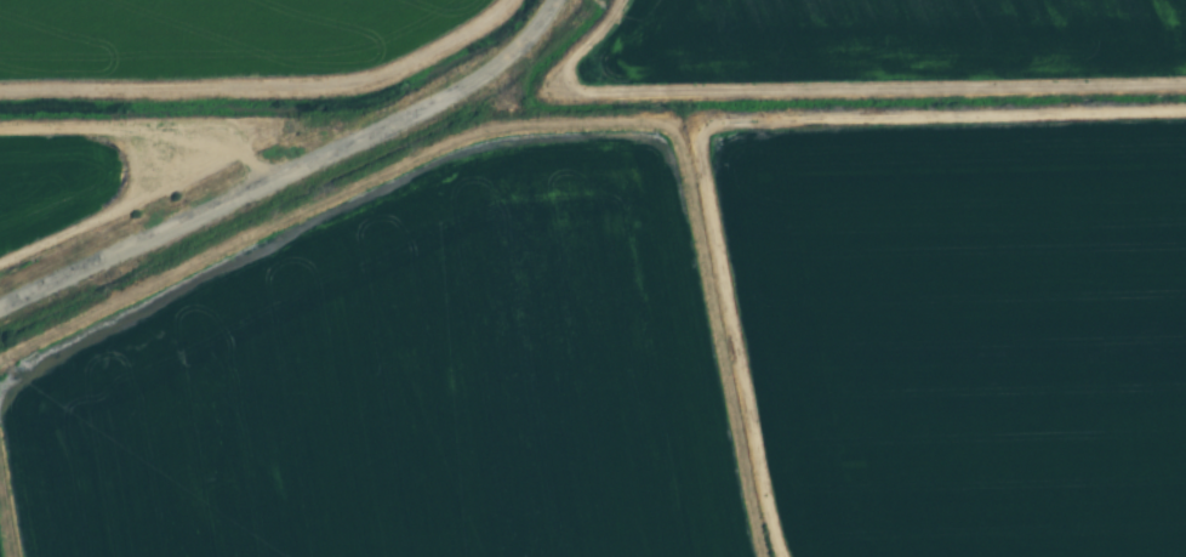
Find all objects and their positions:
road: (274, 165)

